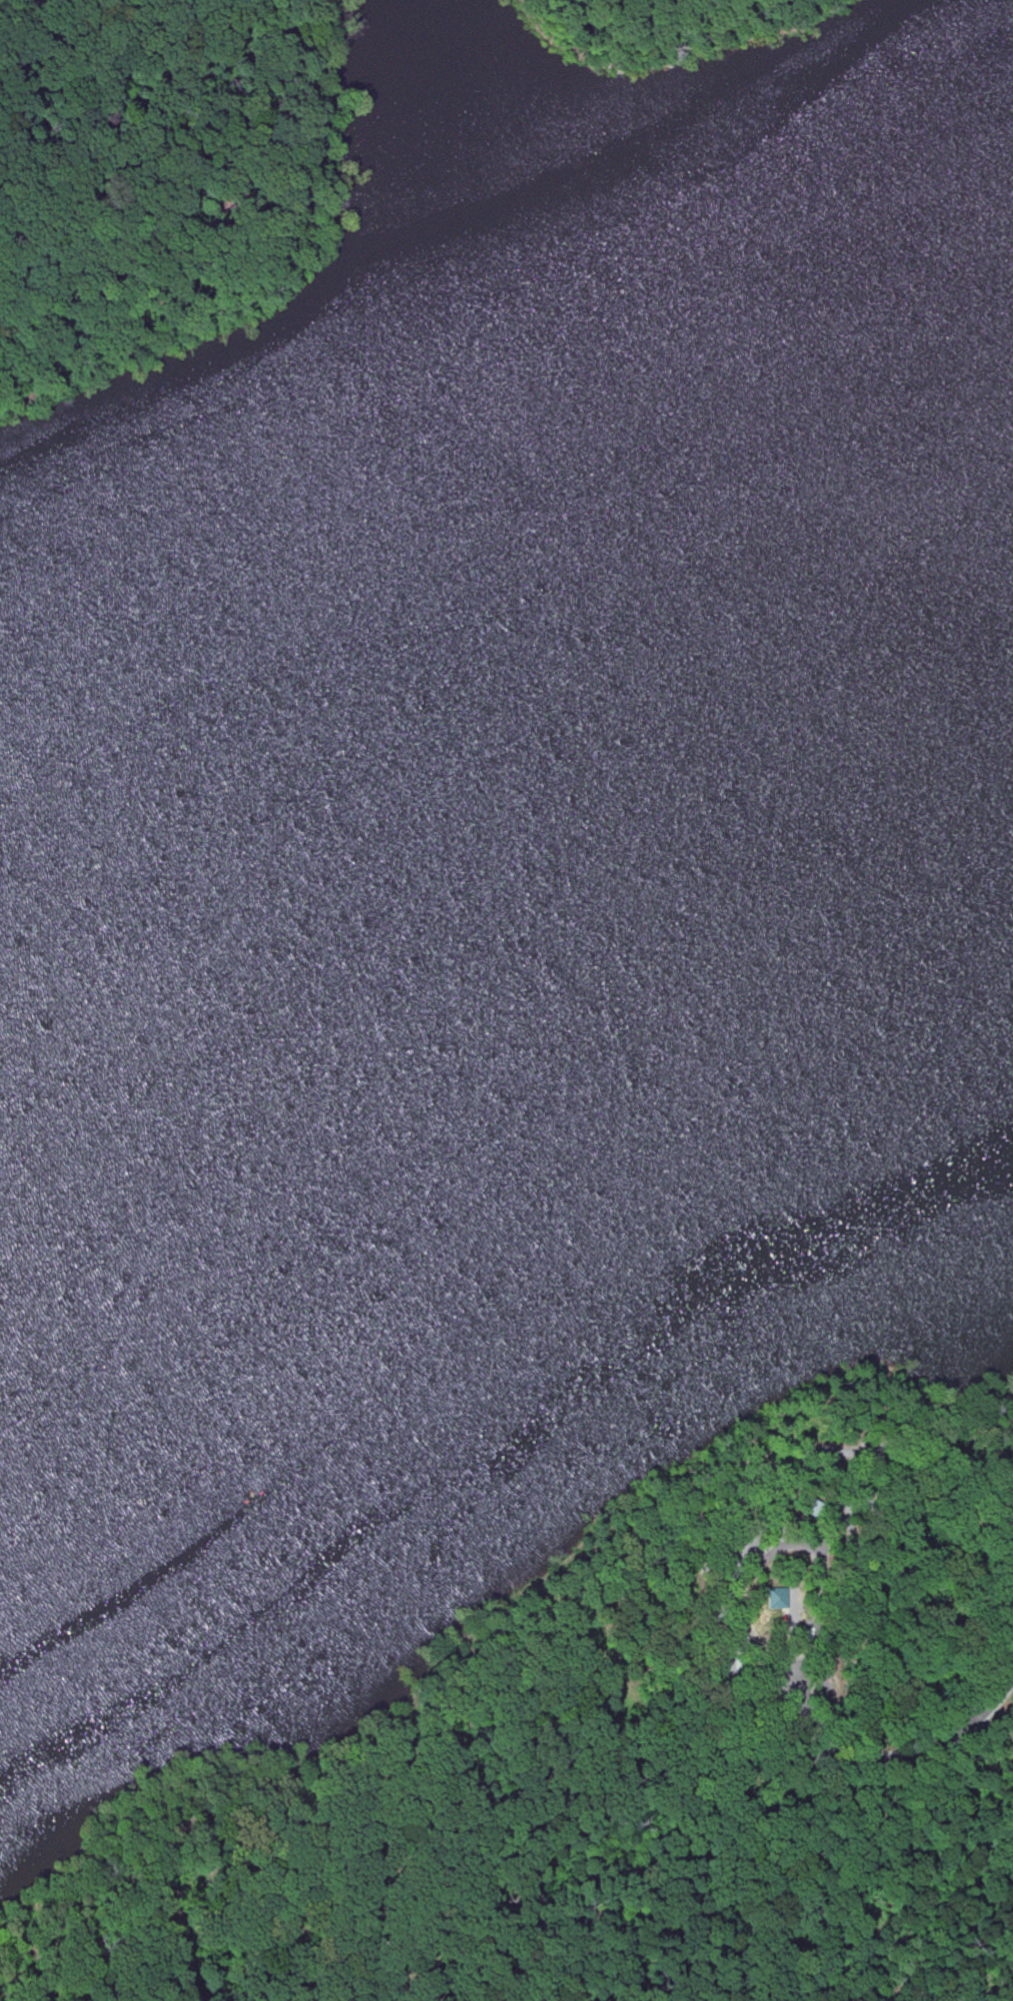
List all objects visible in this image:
road: (804, 1548)
building: (779, 1597)
road: (800, 1701)
road: (917, 1758)

